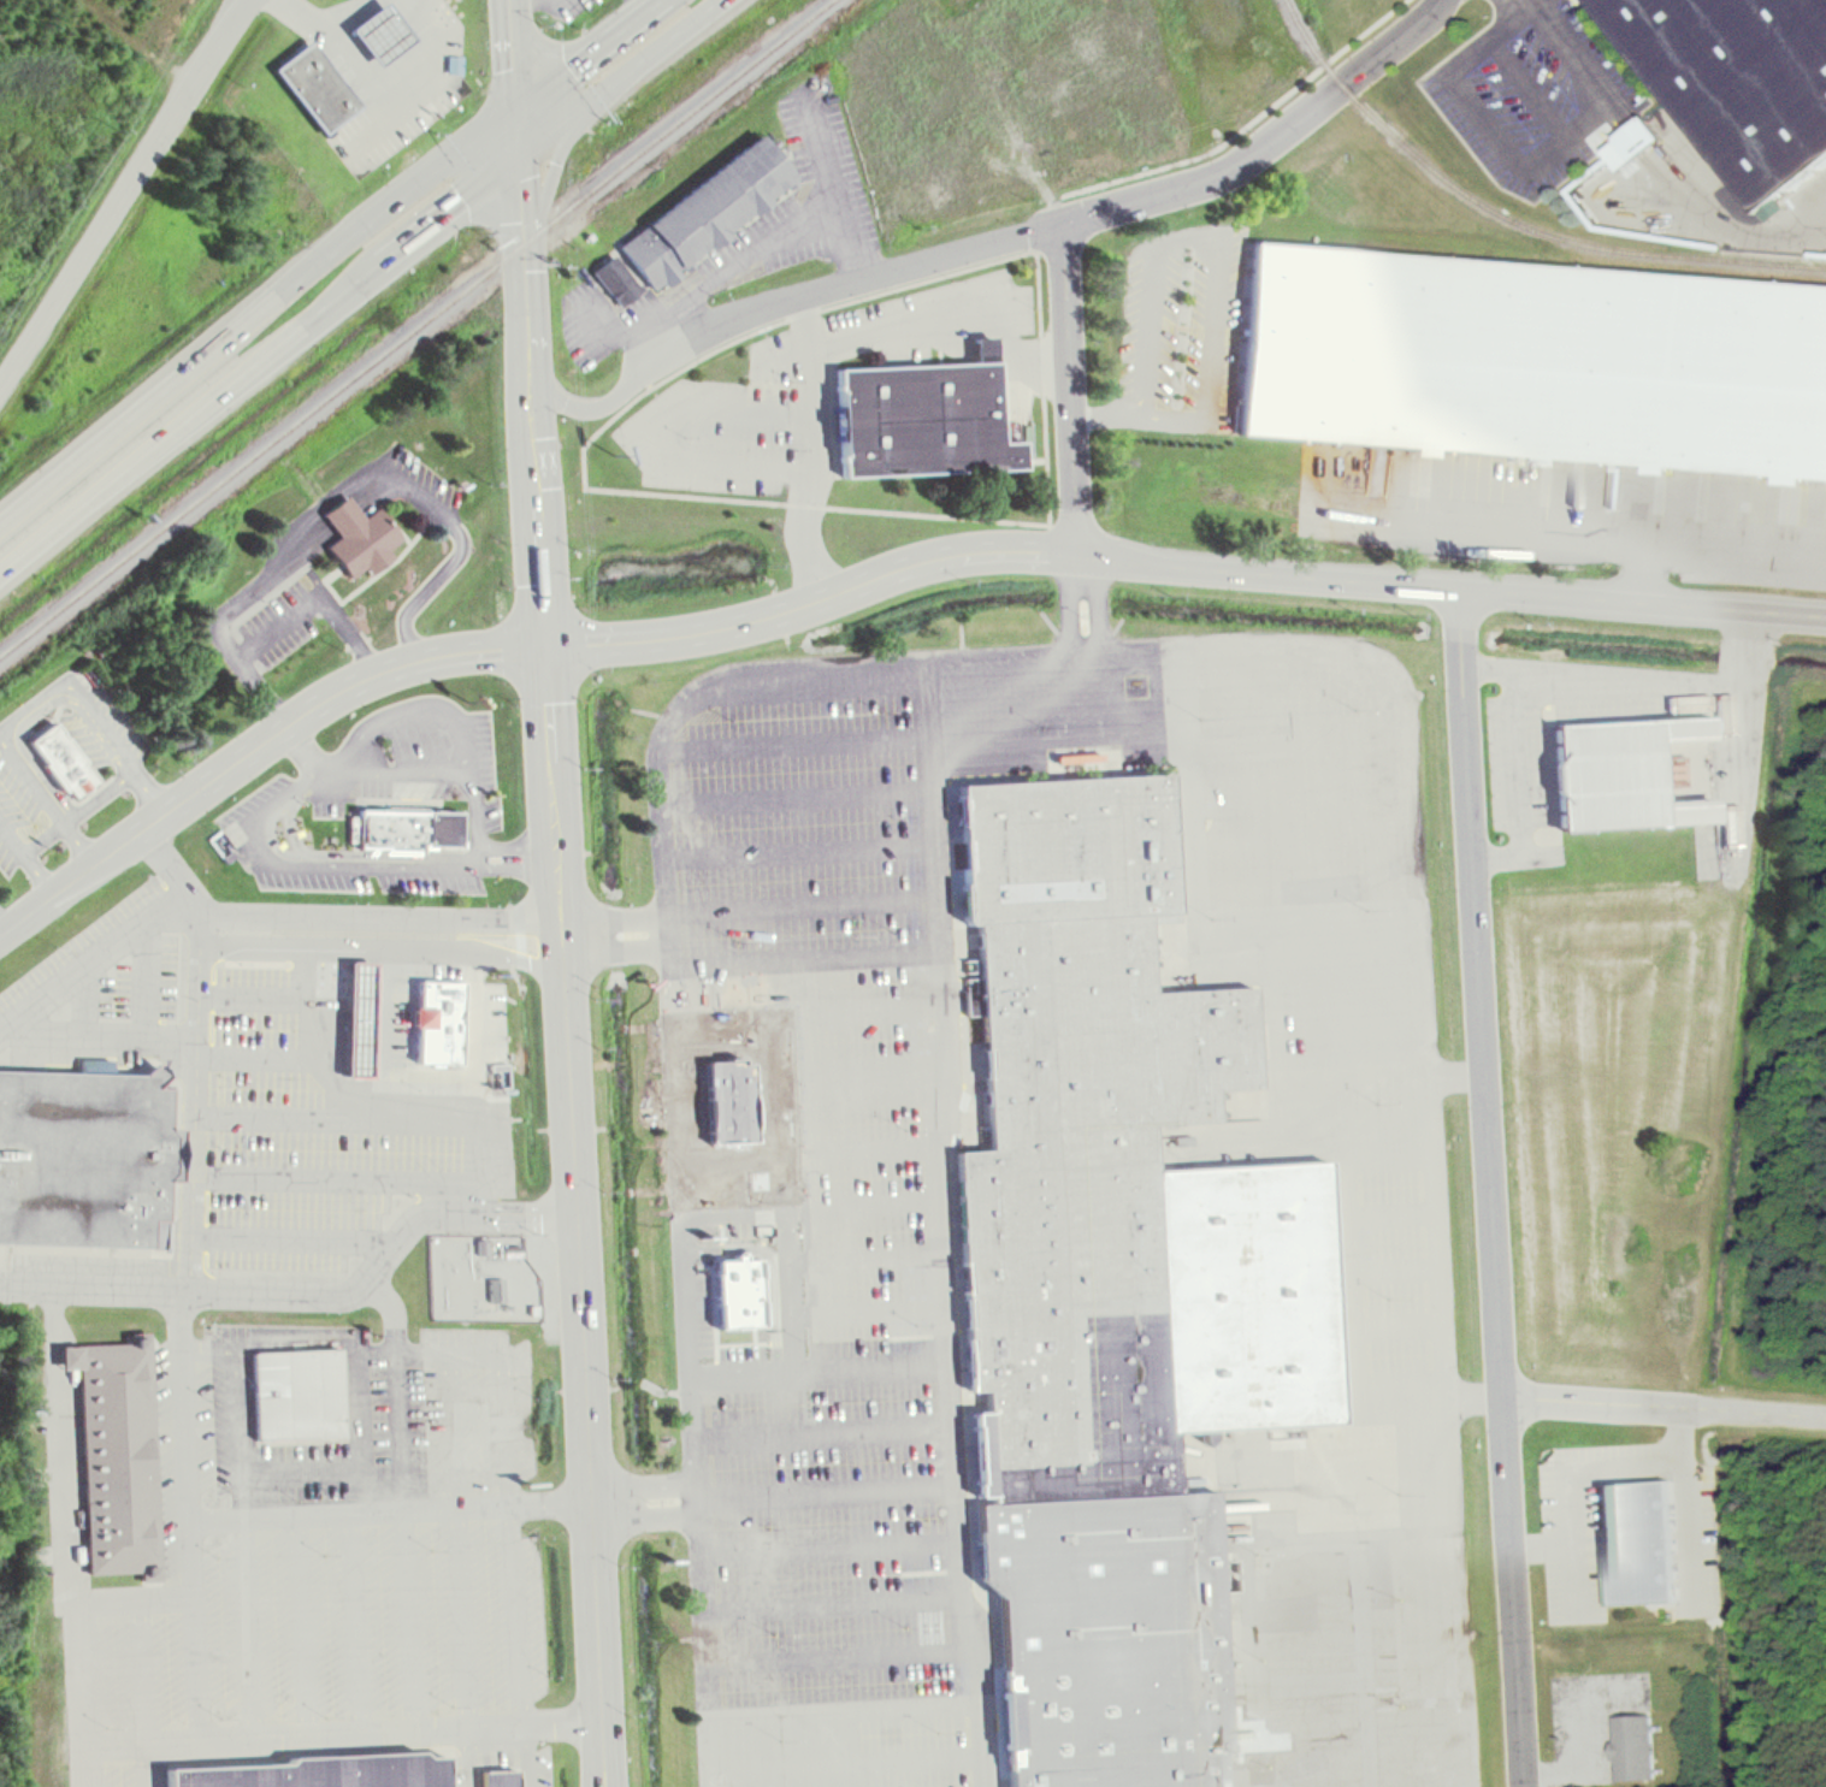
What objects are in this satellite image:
building: (385, 29)
road: (657, 49)
road: (513, 52)
road: (591, 52)
building: (1741, 81)
road: (1526, 84)
building: (317, 85)
parking lot: (1536, 93)
traffic signals: (591, 100)
traffic signals: (518, 105)
road: (386, 110)
road: (555, 126)
road: (368, 129)
road: (518, 129)
building: (1643, 138)
traffic signals: (519, 154)
road: (1514, 165)
road: (552, 167)
road: (124, 191)
road: (521, 197)
building: (708, 213)
railway: (1511, 220)
road: (1065, 225)
building: (617, 279)
road: (259, 312)
railway: (415, 326)
building: (1537, 359)
road: (259, 365)
road: (1071, 390)
road: (591, 406)
building: (924, 416)
road: (532, 443)
road: (814, 449)
road: (376, 479)
building: (362, 535)
road: (1574, 535)
road: (1178, 563)
road: (1639, 572)
road: (283, 622)
traffic signals: (543, 646)
road: (1603, 669)
road: (413, 698)
road: (1742, 698)
road: (94, 714)
building: (1726, 715)
road: (796, 726)
road: (1169, 735)
road: (254, 750)
road: (436, 755)
building: (1629, 756)
building: (65, 759)
road: (794, 779)
road: (1518, 782)
road: (1299, 787)
road: (43, 795)
road: (79, 812)
building: (412, 829)
road: (798, 839)
road: (1301, 842)
road: (323, 853)
road: (26, 858)
road: (800, 898)
road: (1304, 898)
road: (380, 911)
road: (2, 925)
road: (1200, 927)
road: (614, 935)
road: (382, 945)
road: (1324, 948)
road: (804, 958)
road: (94, 959)
road: (147, 978)
road: (84, 1000)
road: (1348, 1008)
road: (808, 1012)
building: (365, 1016)
building: (443, 1019)
road: (380, 1025)
road: (468, 1029)
road: (96, 1034)
road: (294, 1039)
road: (1425, 1067)
road: (810, 1069)
road: (320, 1076)
road: (1455, 1078)
road: (1353, 1084)
parking lot: (1316, 1088)
road: (361, 1105)
road: (676, 1114)
road: (942, 1123)
road: (811, 1148)
building: (1112, 1150)
building: (83, 1158)
road: (356, 1164)
road: (1489, 1188)
road: (811, 1206)
road: (577, 1215)
road: (1387, 1219)
parking lot: (811, 1223)
road: (296, 1226)
road: (383, 1259)
road: (814, 1259)
road: (1389, 1270)
road: (1343, 1274)
power substation: (480, 1276)
road: (91, 1289)
road: (816, 1314)
road: (1393, 1326)
road: (820, 1371)
road: (507, 1379)
road: (235, 1380)
road: (397, 1389)
building: (301, 1396)
road: (1472, 1398)
road: (1664, 1407)
road: (823, 1434)
building: (112, 1443)
road: (348, 1463)
road: (1401, 1475)
road: (183, 1477)
road: (361, 1486)
road: (388, 1509)
road: (1405, 1535)
building: (1639, 1540)
road: (460, 1542)
road: (831, 1552)
road: (1360, 1594)
road: (838, 1604)
road: (1410, 1617)
road: (407, 1620)
road: (79, 1622)
road: (354, 1622)
road: (302, 1625)
road: (249, 1627)
building: (1105, 1632)
road: (977, 1634)
road: (520, 1645)
road: (844, 1656)
road: (141, 1671)
road: (1313, 1680)
road: (846, 1705)
road: (1363, 1732)
road: (123, 1744)
building: (1636, 1746)
road: (471, 1757)
road: (849, 1763)
road: (147, 1765)
building: (494, 1769)
building: (331, 1770)
road: (1428, 1785)

